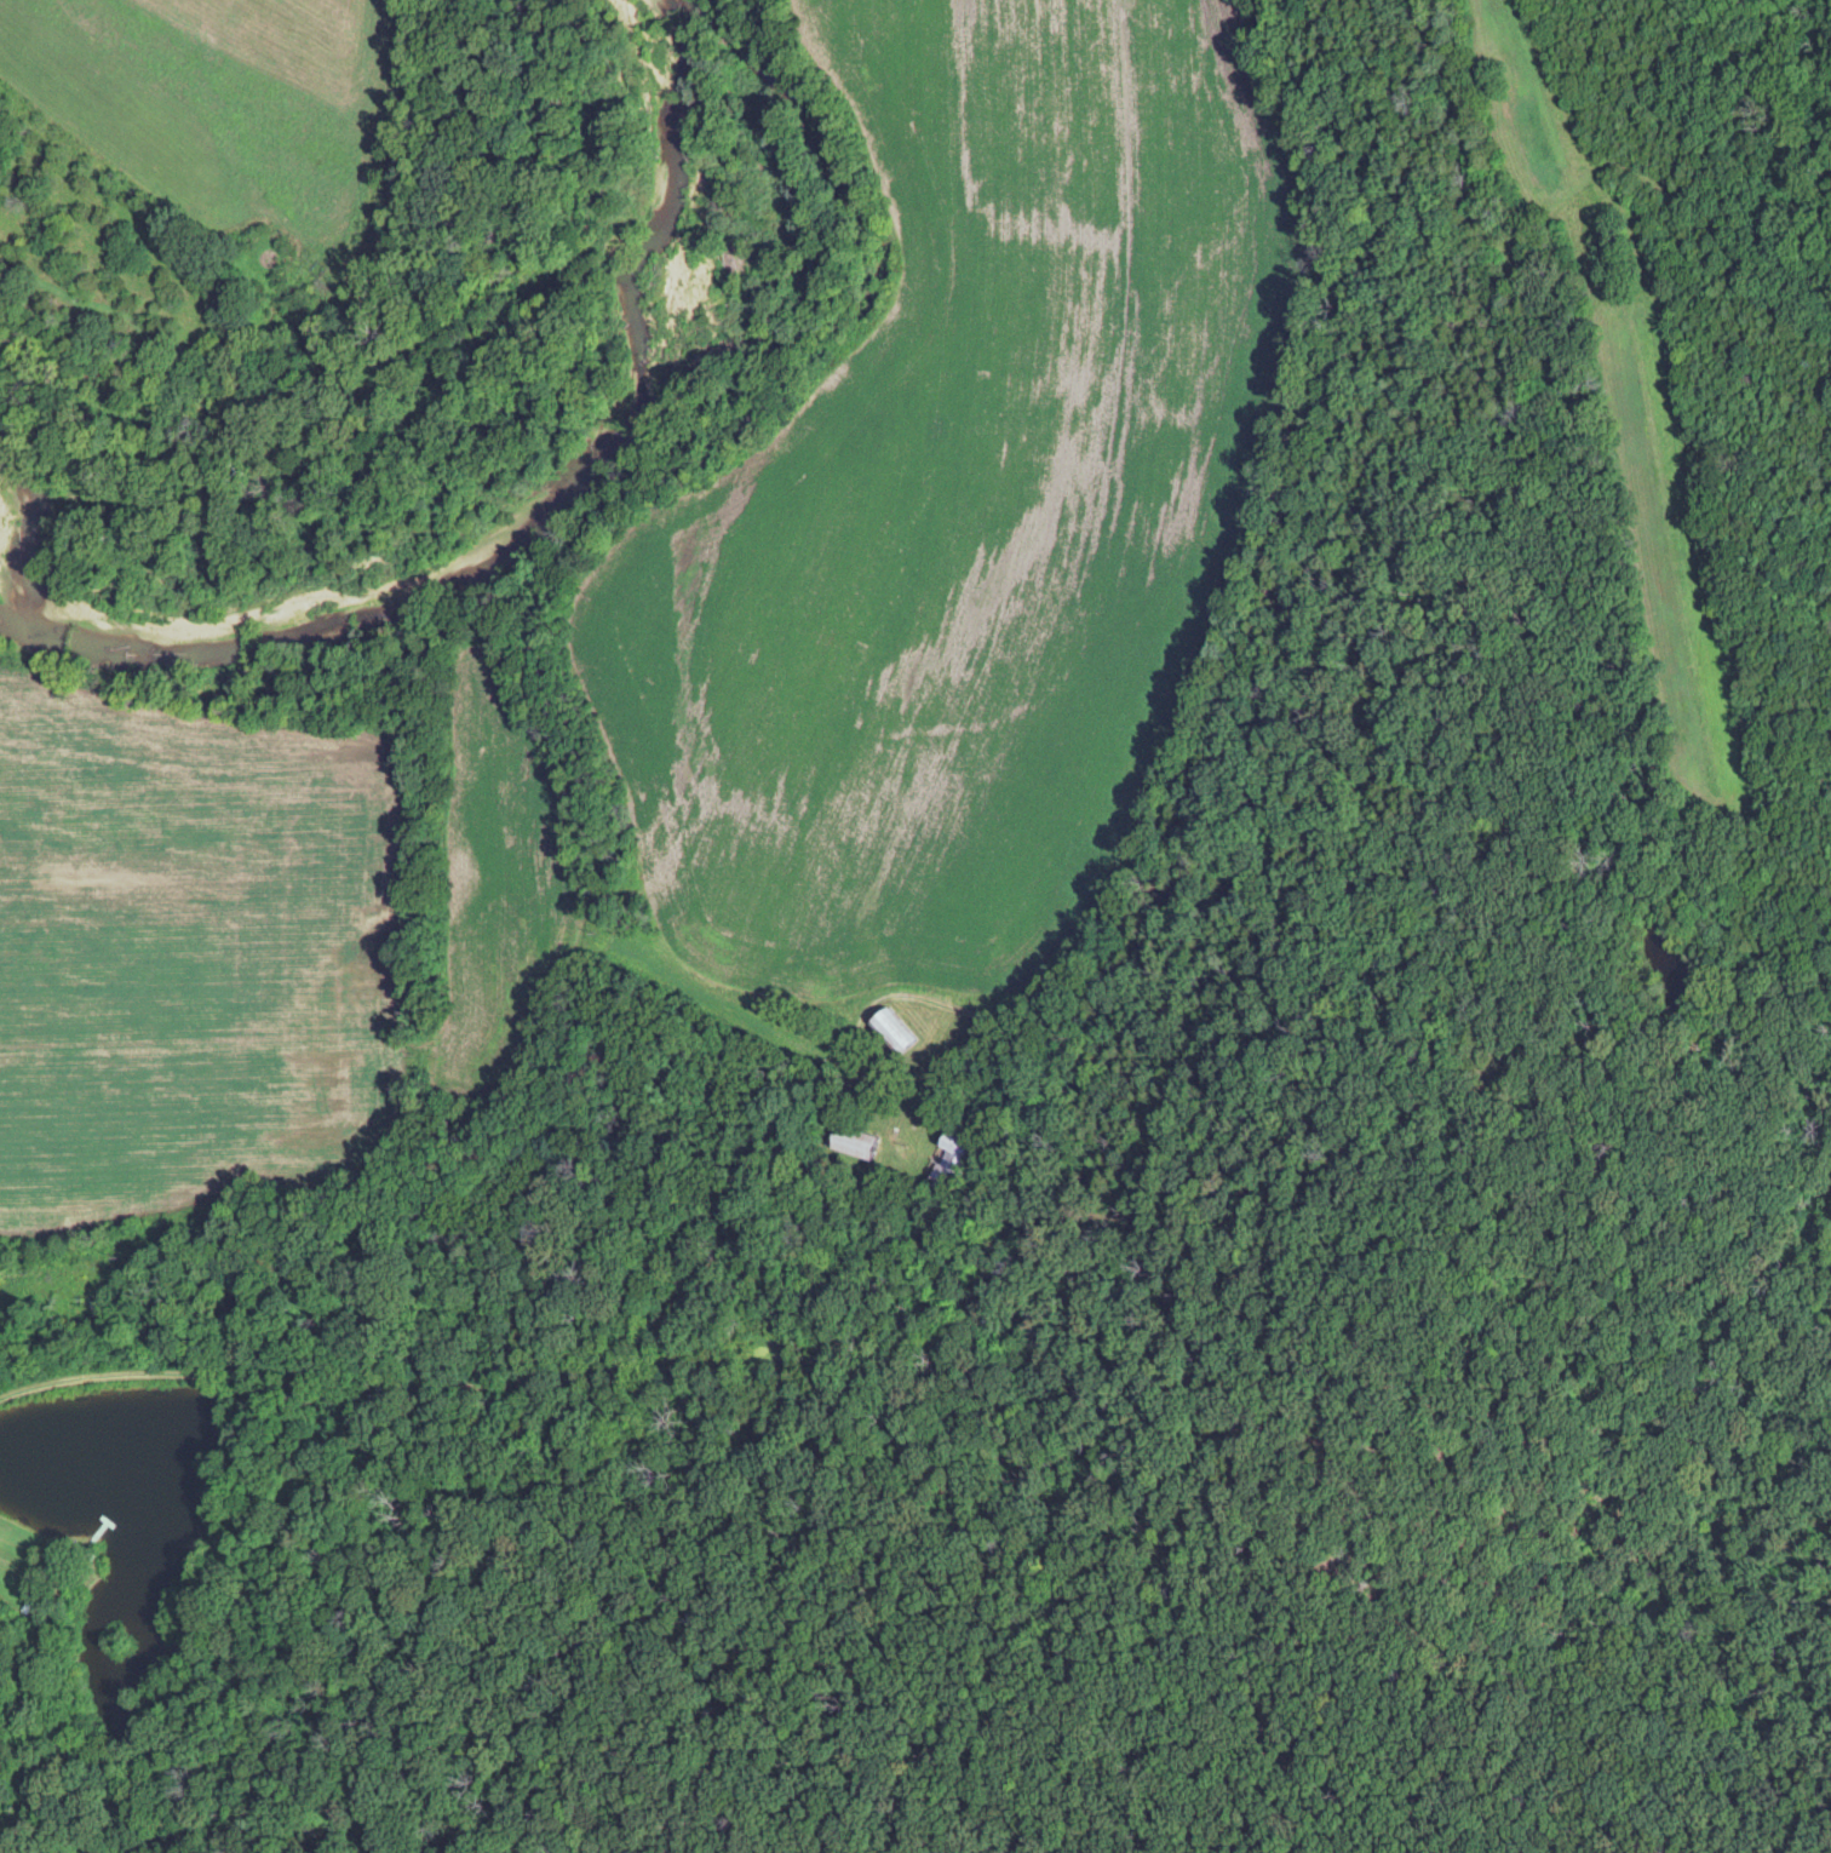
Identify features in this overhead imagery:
building: (889, 1032)
road: (1034, 1077)
building: (848, 1142)
building: (947, 1161)

